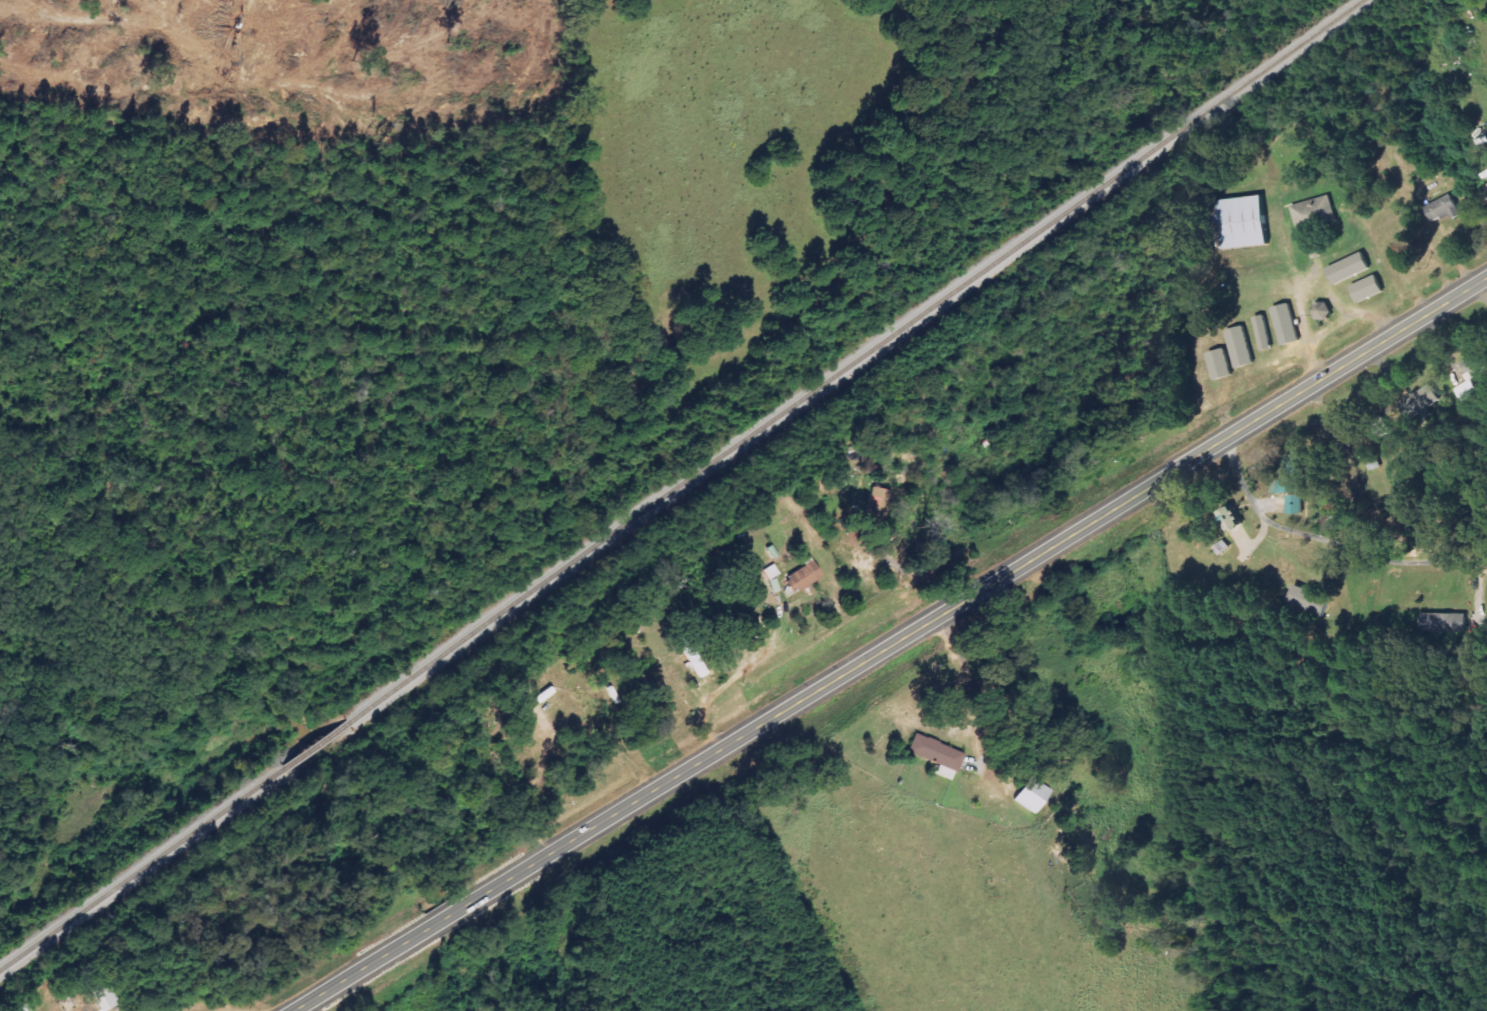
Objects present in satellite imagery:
building: (1486, 188)
building: (1442, 208)
building: (1315, 213)
building: (1243, 223)
building: (1367, 289)
building: (1322, 311)
building: (1285, 325)
building: (1262, 333)
building: (1240, 347)
building: (1220, 365)
building: (1471, 377)
building: (1420, 401)
building: (1380, 427)
building: (1290, 477)
railway: (680, 484)
building: (1294, 505)
building: (1231, 520)
road: (1334, 541)
building: (801, 577)
building: (1307, 601)
building: (1442, 623)
road: (888, 650)
building: (690, 656)
building: (933, 753)
building: (1029, 795)

